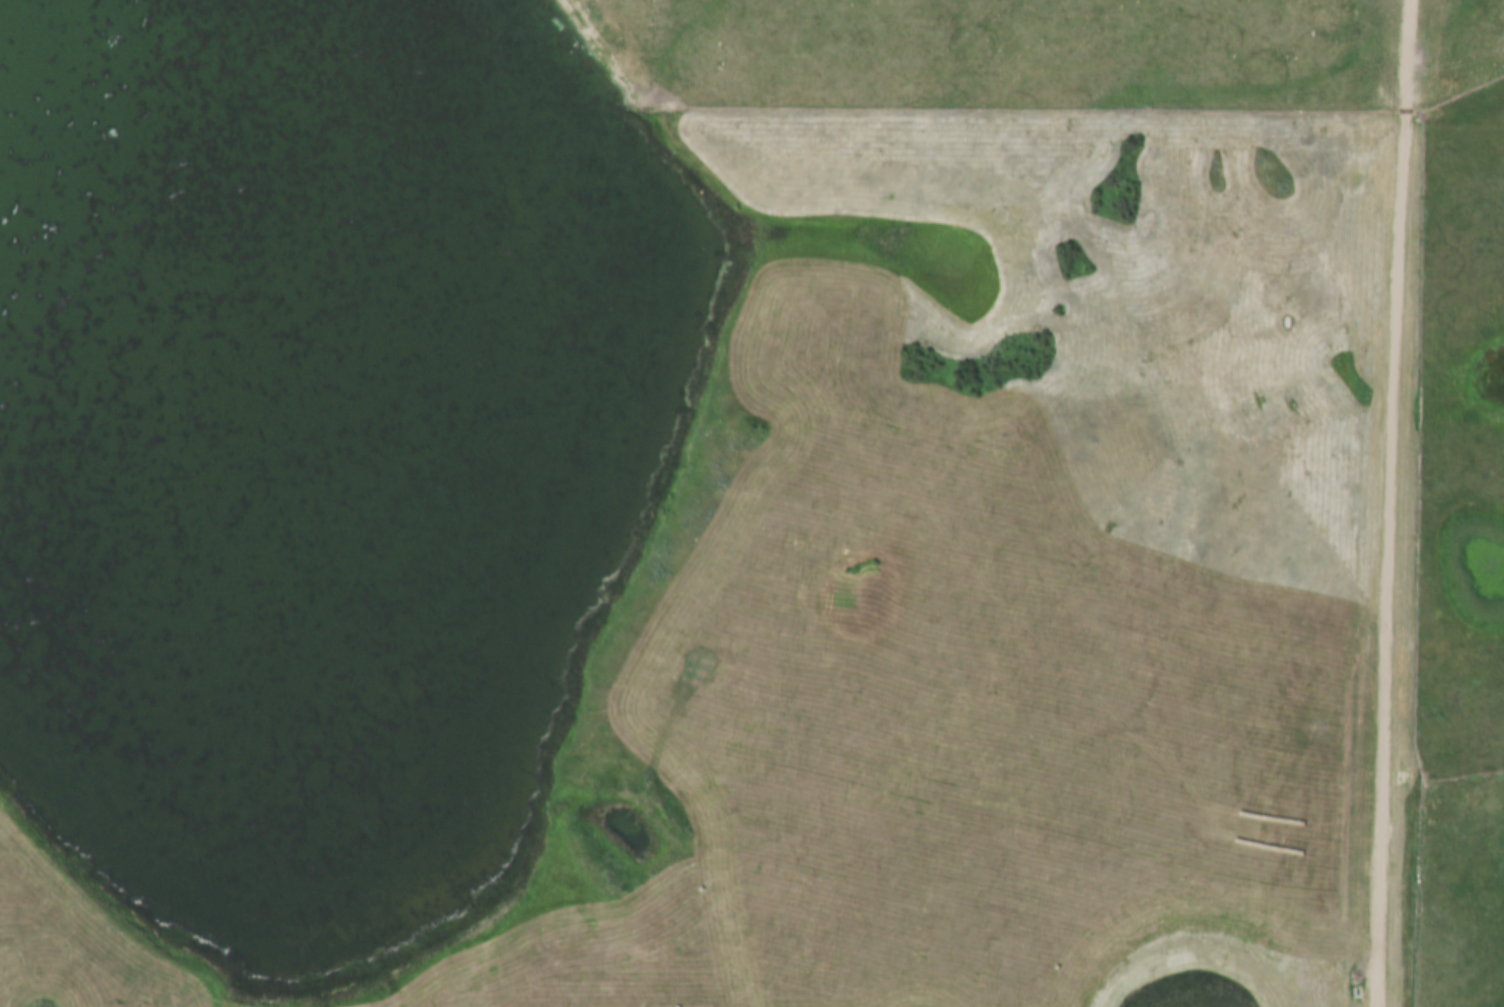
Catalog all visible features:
road: (1389, 503)

